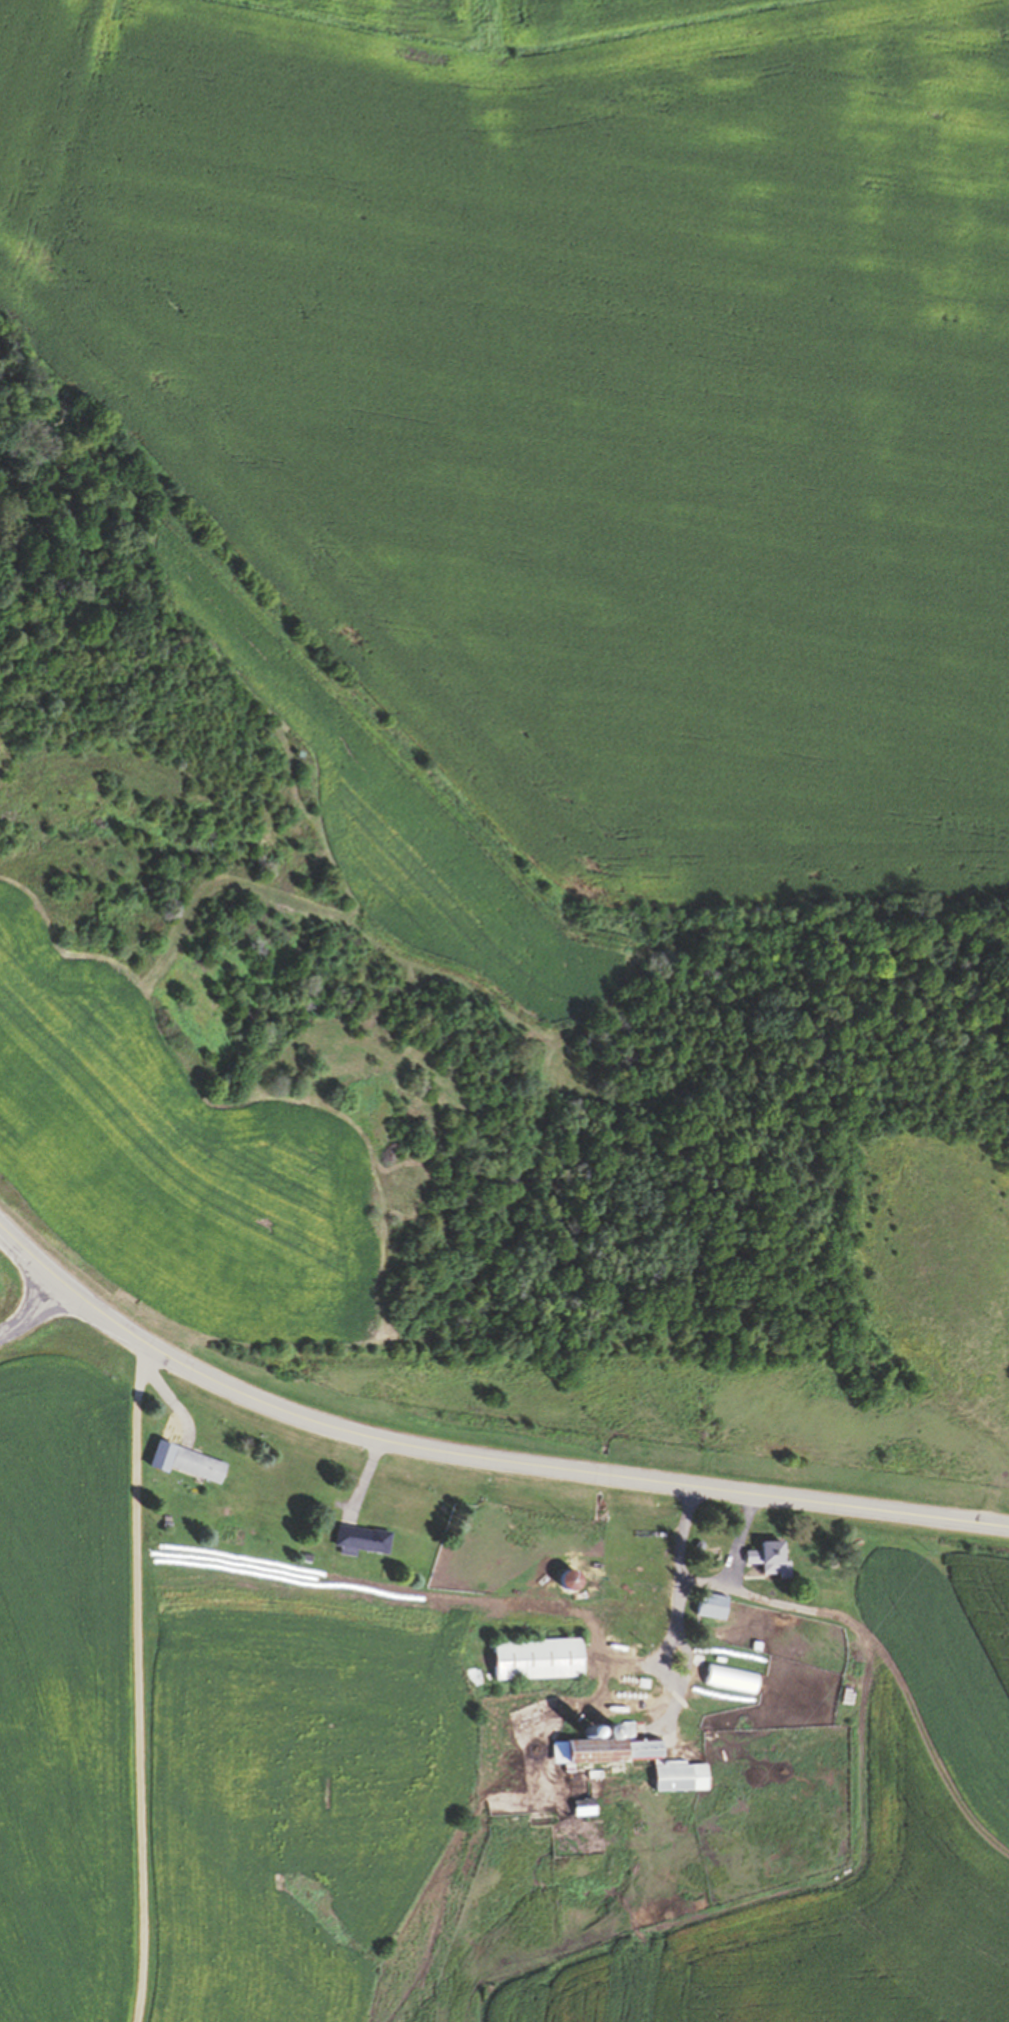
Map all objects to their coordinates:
road: (33, 1308)
road: (474, 1458)
building: (200, 1466)
building: (365, 1540)
building: (773, 1558)
building: (714, 1606)
building: (543, 1658)
building: (620, 1747)
building: (685, 1777)
building: (589, 1806)

